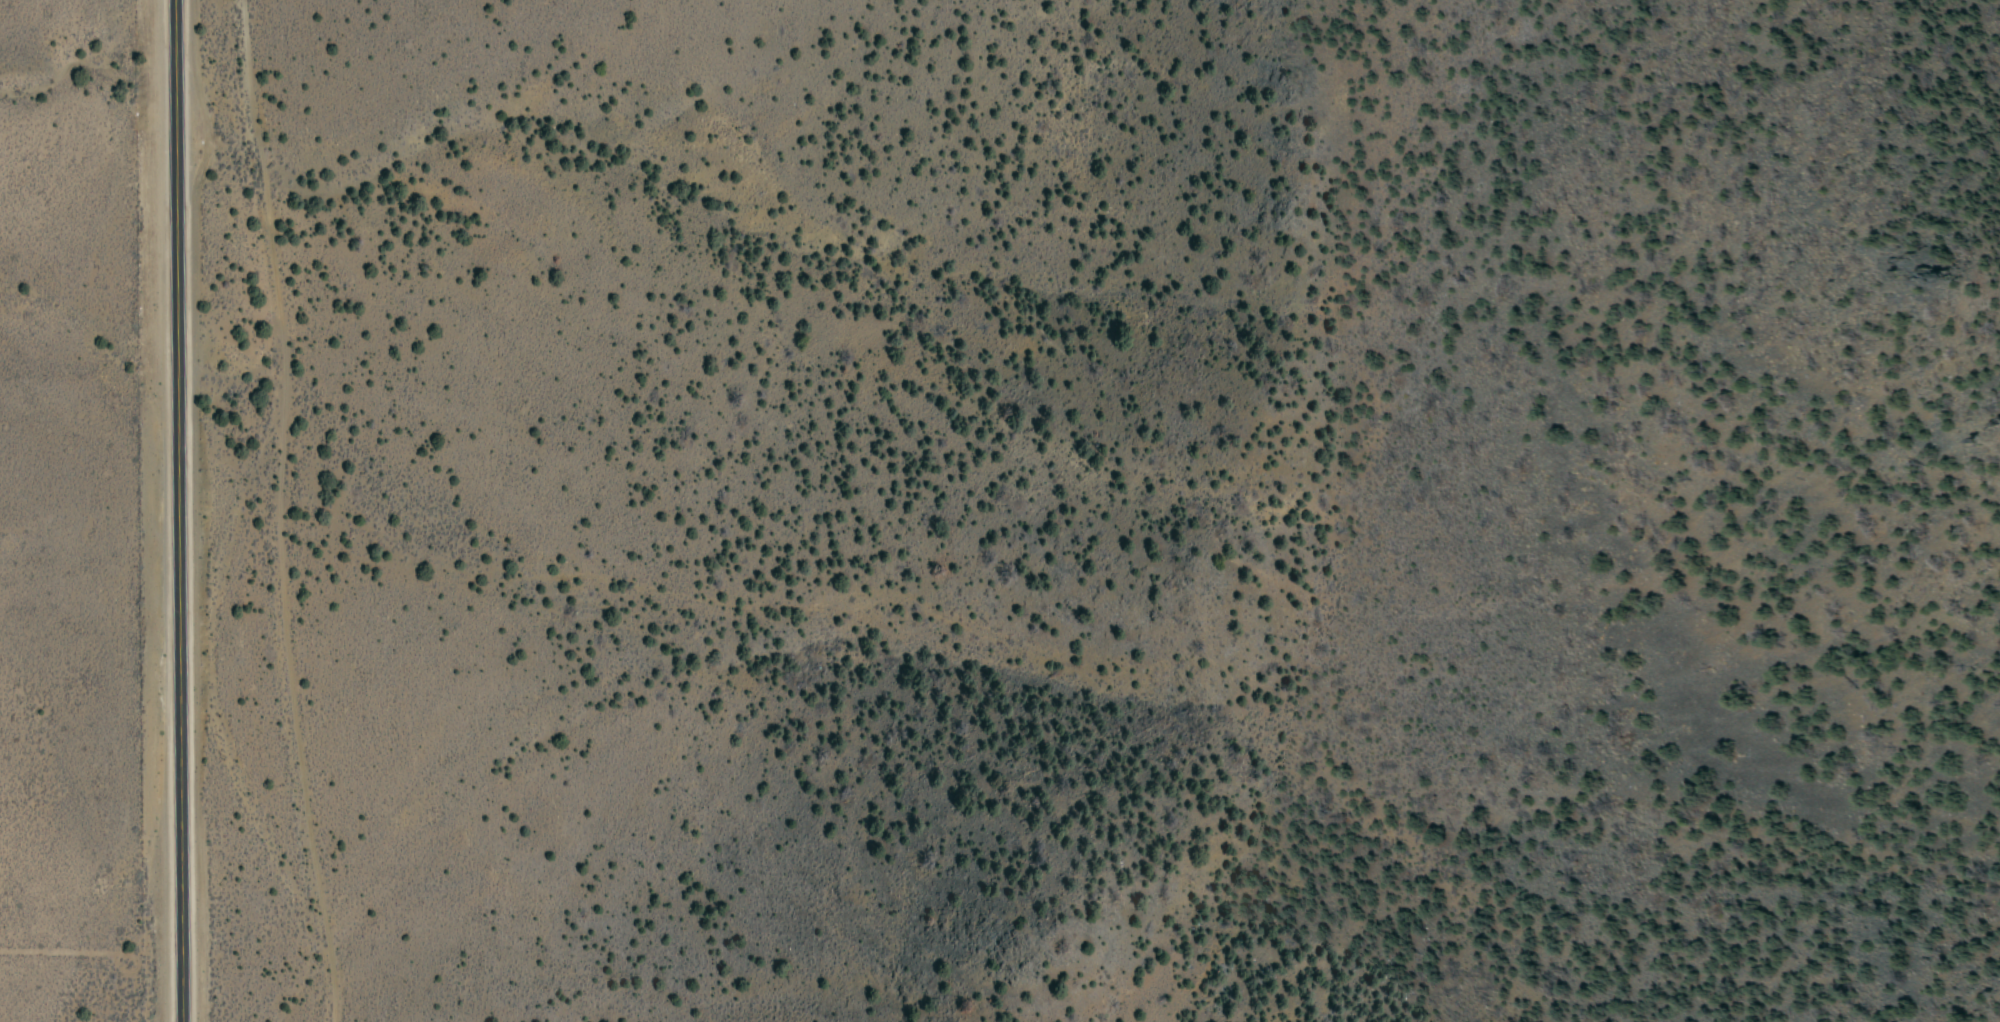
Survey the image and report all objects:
road: (176, 511)

